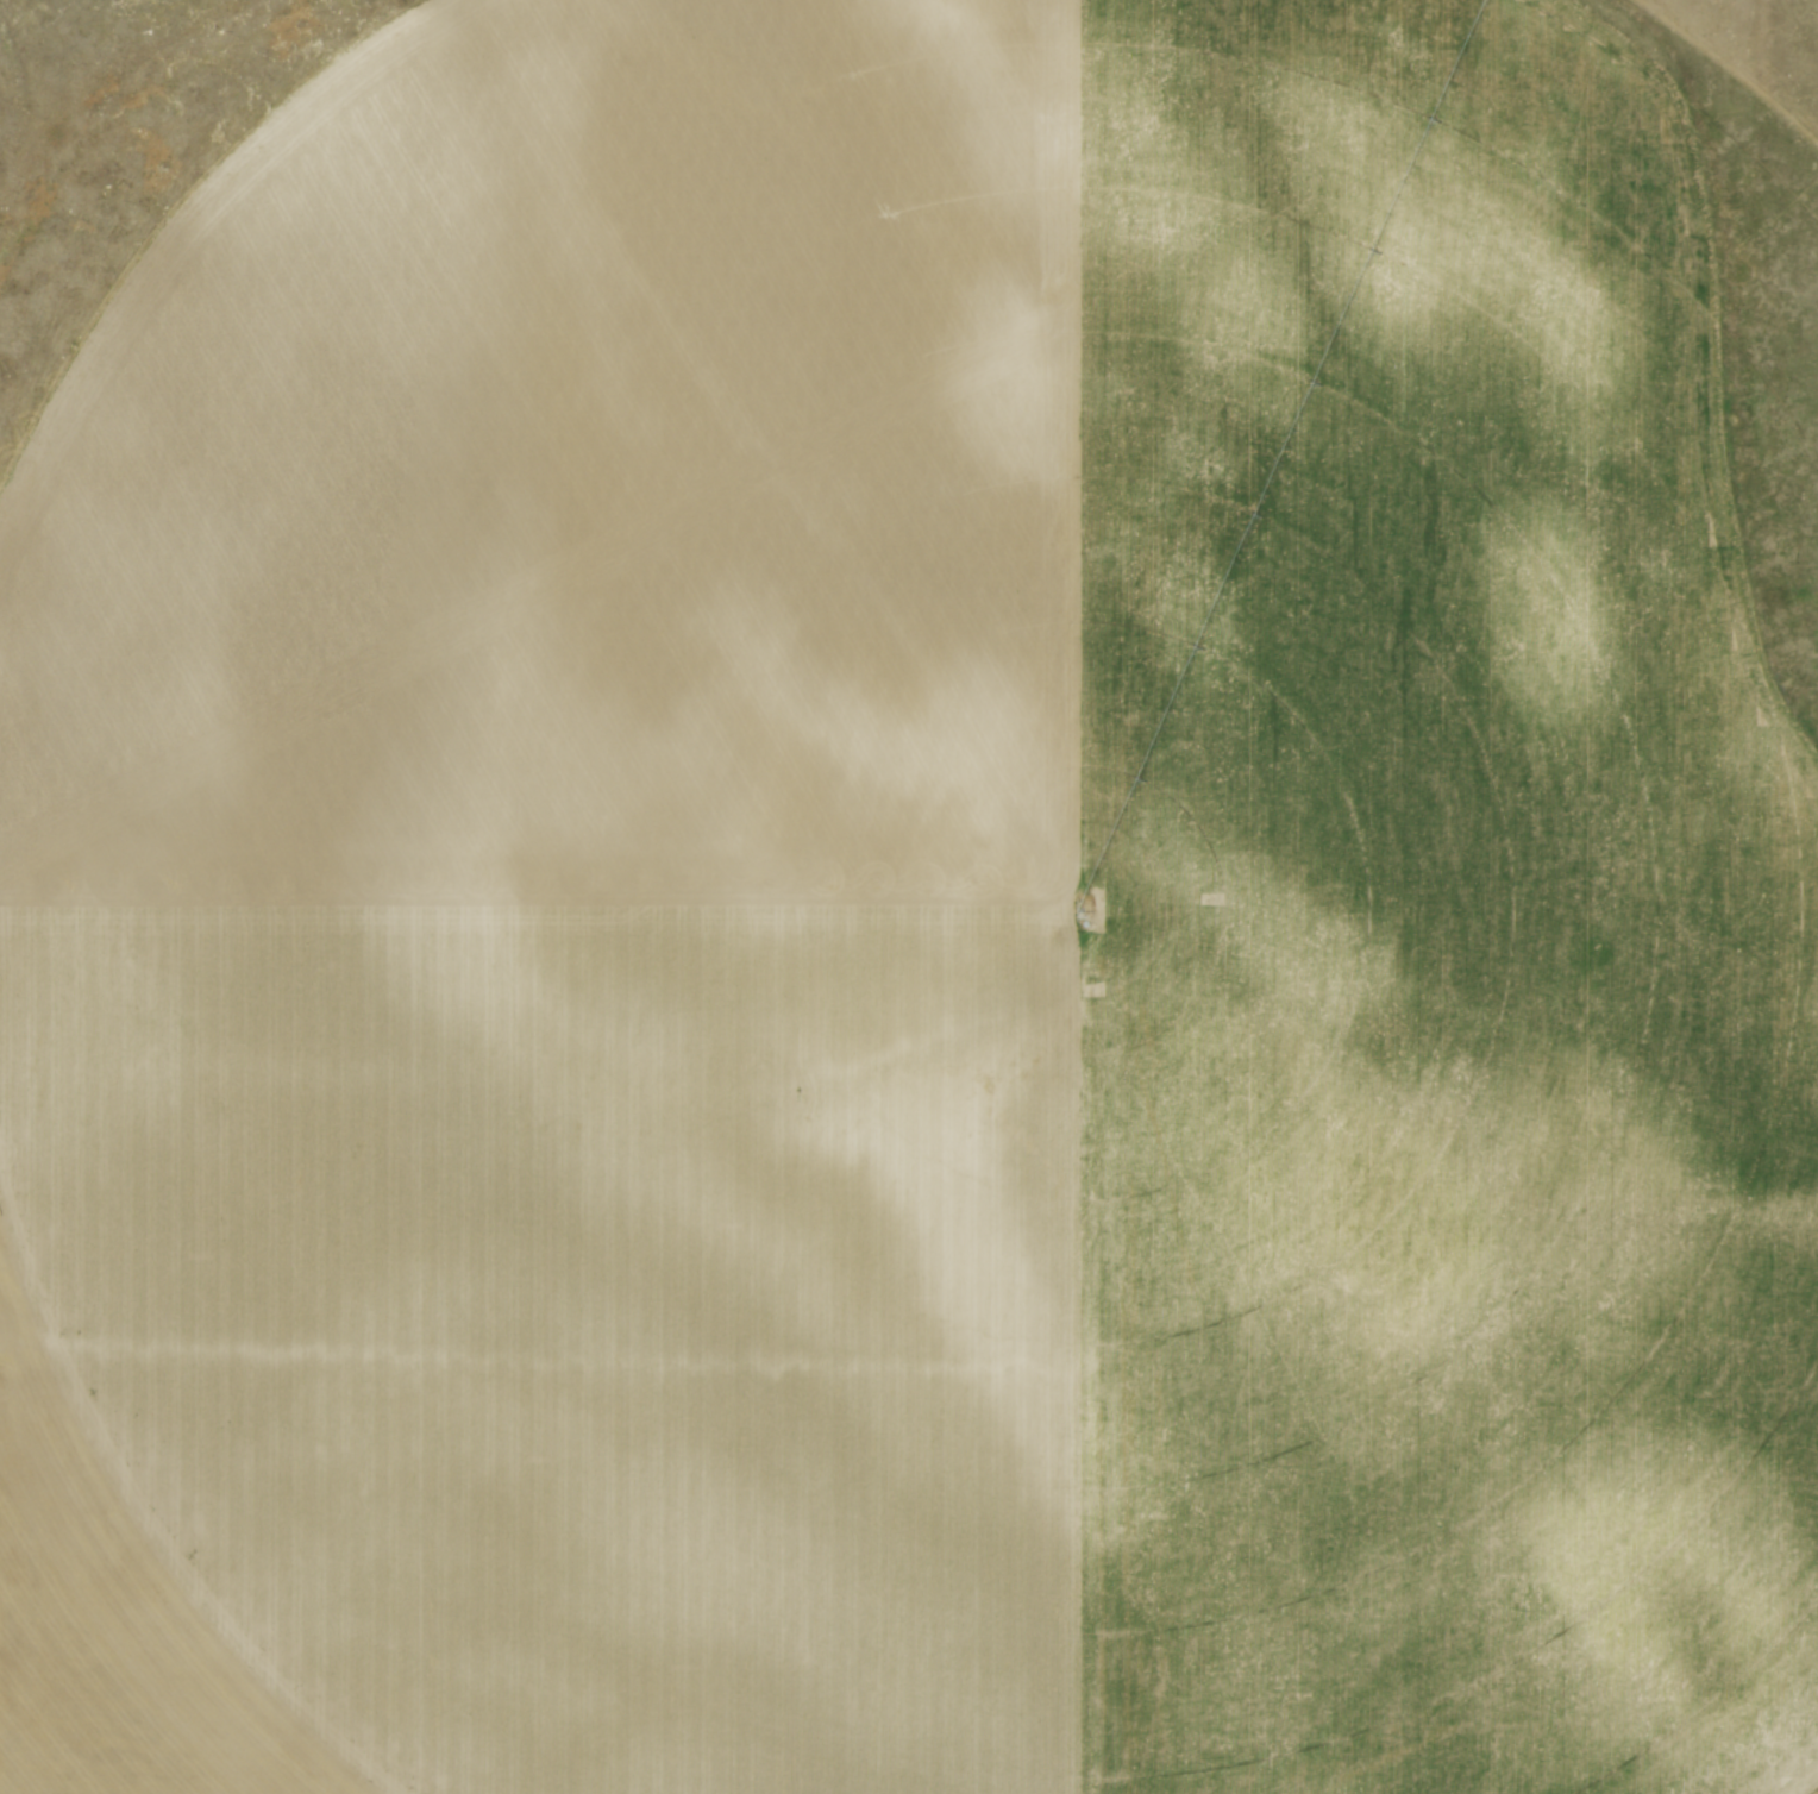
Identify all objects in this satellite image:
crop: (926, 924)

